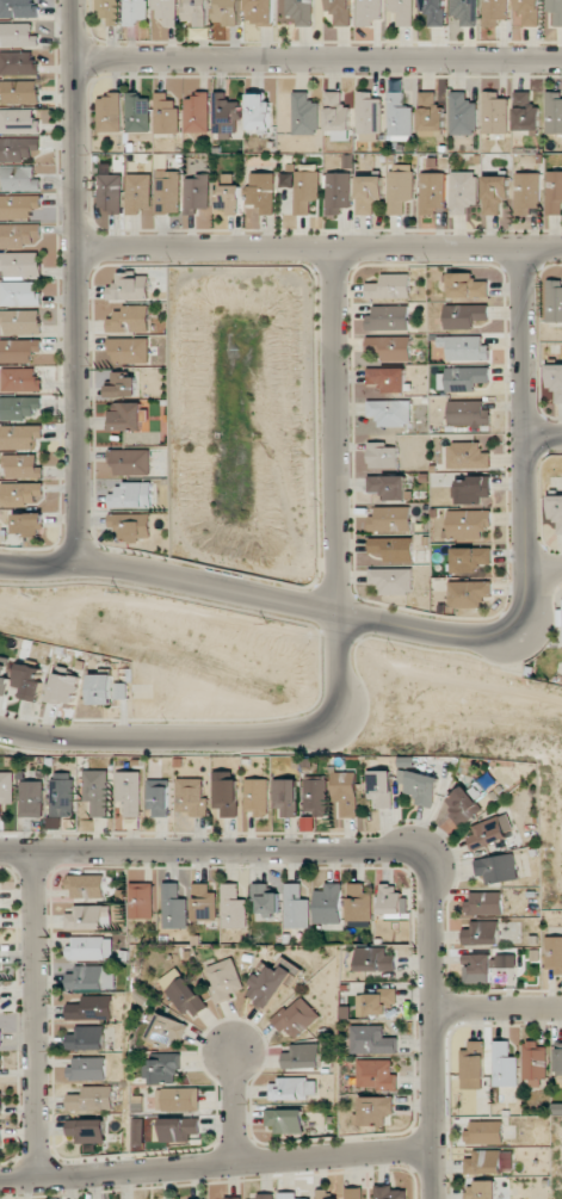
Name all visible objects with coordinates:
building: (17, 8)
building: (109, 11)
building: (136, 11)
building: (166, 11)
building: (259, 11)
building: (301, 11)
building: (340, 11)
building: (402, 11)
building: (433, 11)
building: (464, 11)
building: (555, 11)
building: (196, 12)
building: (228, 12)
building: (369, 12)
building: (495, 12)
building: (526, 12)
building: (17, 35)
road: (316, 61)
building: (18, 63)
building: (19, 91)
building: (110, 112)
building: (197, 112)
building: (258, 112)
building: (336, 112)
building: (525, 112)
building: (554, 112)
building: (137, 113)
building: (166, 113)
building: (369, 113)
building: (494, 113)
building: (304, 115)
building: (462, 115)
building: (224, 116)
building: (400, 118)
building: (18, 120)
building: (18, 149)
building: (18, 178)
building: (400, 187)
building: (261, 191)
building: (463, 191)
building: (109, 192)
building: (167, 192)
building: (305, 192)
building: (336, 192)
building: (431, 192)
building: (526, 192)
building: (554, 192)
building: (137, 193)
building: (196, 193)
building: (368, 193)
building: (494, 193)
building: (228, 194)
building: (18, 205)
building: (19, 235)
road: (317, 249)
building: (20, 264)
road: (74, 282)
building: (467, 285)
building: (389, 286)
building: (129, 288)
building: (19, 293)
building: (554, 301)
building: (464, 315)
building: (388, 317)
building: (130, 320)
building: (21, 321)
building: (389, 347)
building: (464, 347)
building: (19, 350)
building: (129, 350)
building: (388, 378)
building: (464, 378)
building: (20, 379)
building: (555, 381)
building: (122, 384)
building: (19, 407)
building: (389, 412)
building: (468, 413)
building: (129, 416)
road: (541, 433)
building: (20, 437)
road: (519, 445)
building: (382, 455)
building: (467, 456)
building: (130, 461)
building: (23, 466)
building: (389, 486)
building: (473, 489)
building: (20, 493)
building: (131, 495)
building: (556, 511)
building: (390, 519)
building: (29, 524)
building: (131, 524)
building: (469, 524)
building: (393, 548)
building: (469, 560)
road: (544, 564)
building: (391, 580)
building: (468, 593)
road: (251, 597)
road: (341, 653)
building: (4, 674)
building: (29, 681)
building: (62, 688)
building: (100, 688)
road: (512, 688)
building: (382, 787)
building: (424, 787)
building: (6, 789)
building: (97, 791)
building: (129, 792)
building: (346, 792)
building: (61, 795)
building: (191, 796)
building: (257, 796)
building: (158, 797)
building: (226, 797)
building: (316, 797)
building: (30, 798)
building: (286, 798)
building: (463, 805)
building: (490, 832)
road: (224, 852)
building: (496, 869)
building: (86, 886)
building: (265, 900)
building: (391, 900)
building: (142, 901)
building: (358, 902)
building: (203, 903)
building: (484, 903)
building: (328, 904)
building: (173, 907)
building: (296, 907)
building: (233, 908)
building: (87, 917)
building: (0, 925)
building: (482, 933)
building: (88, 947)
building: (554, 953)
building: (0, 957)
building: (376, 959)
building: (488, 966)
building: (91, 977)
building: (226, 979)
building: (272, 981)
building: (185, 993)
building: (0, 1002)
building: (377, 1002)
building: (91, 1008)
road: (42, 1014)
road: (506, 1016)
building: (296, 1018)
road: (451, 1027)
building: (168, 1030)
building: (0, 1038)
building: (86, 1038)
building: (373, 1040)
building: (302, 1056)
building: (558, 1058)
building: (533, 1064)
building: (473, 1065)
building: (504, 1065)
building: (87, 1068)
building: (165, 1069)
building: (378, 1074)
building: (292, 1088)
building: (91, 1099)
building: (179, 1099)
building: (0, 1104)
road: (229, 1107)
building: (556, 1108)
building: (376, 1110)
building: (285, 1120)
building: (180, 1129)
building: (87, 1130)
building: (484, 1132)
building: (0, 1135)
building: (489, 1161)
road: (226, 1164)
building: (481, 1189)
building: (353, 1193)
building: (391, 1193)
building: (327, 1194)
building: (264, 1195)
building: (289, 1195)

